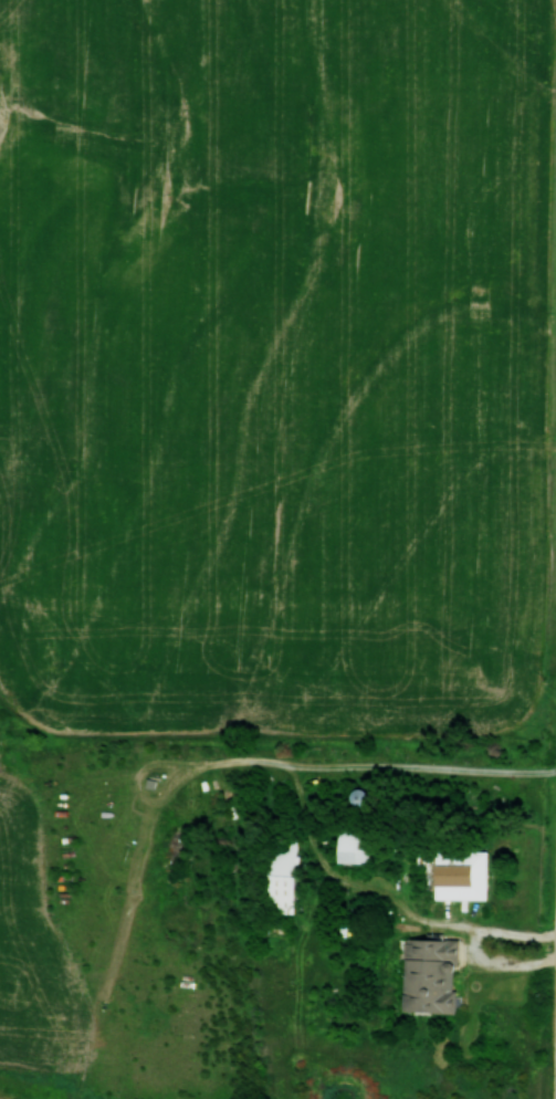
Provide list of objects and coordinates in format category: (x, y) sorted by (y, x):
building: (355, 842)
building: (282, 875)
building: (461, 876)
building: (430, 976)

